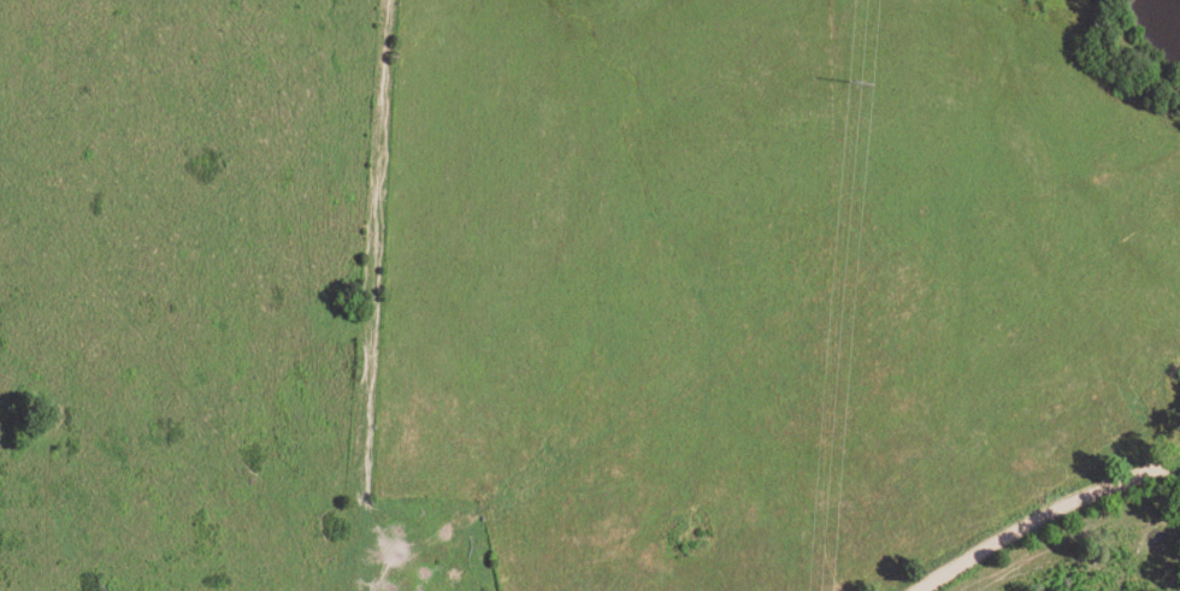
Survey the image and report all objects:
road: (1039, 518)

